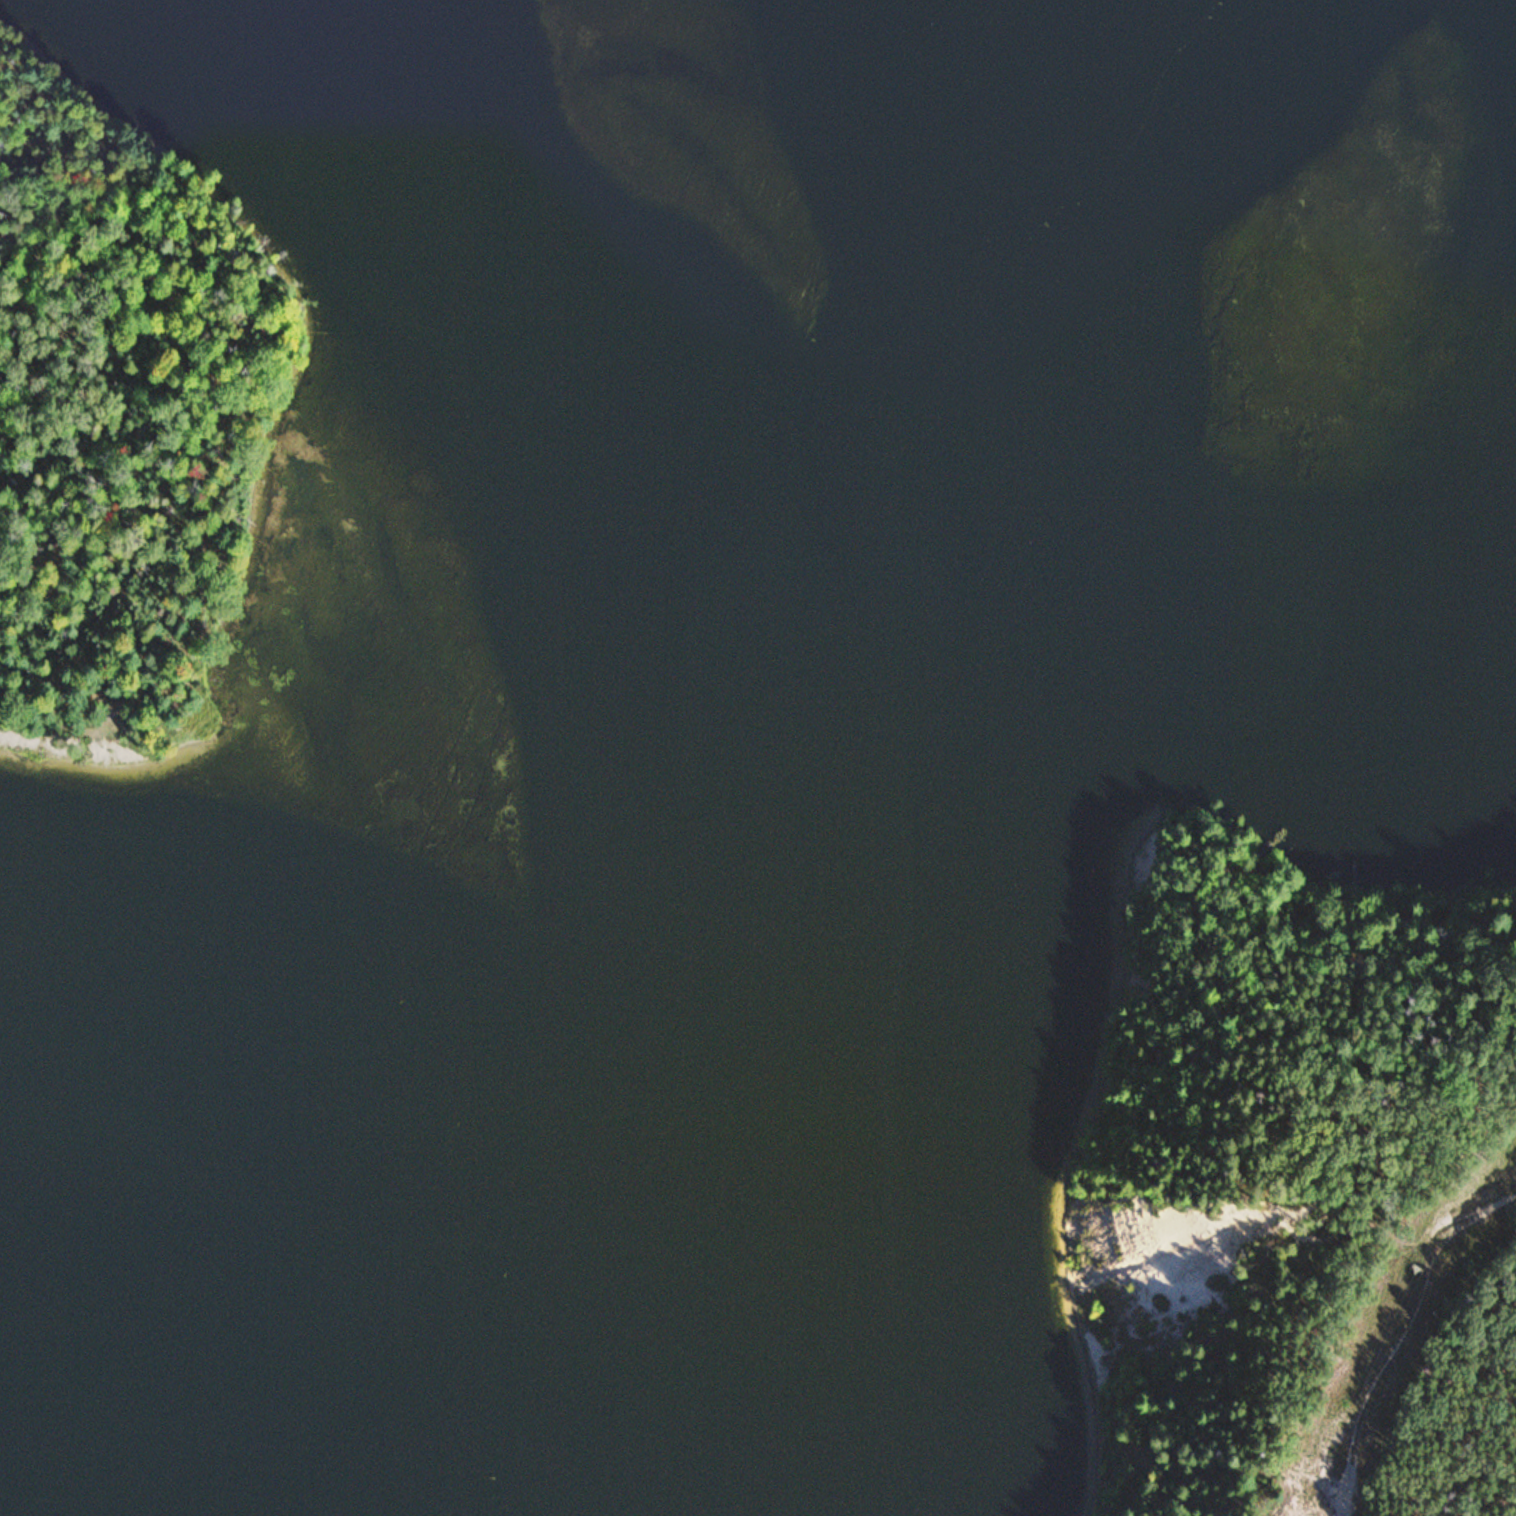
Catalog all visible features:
river: (864, 915)
power tower: (1411, 1270)
road: (1404, 1338)

